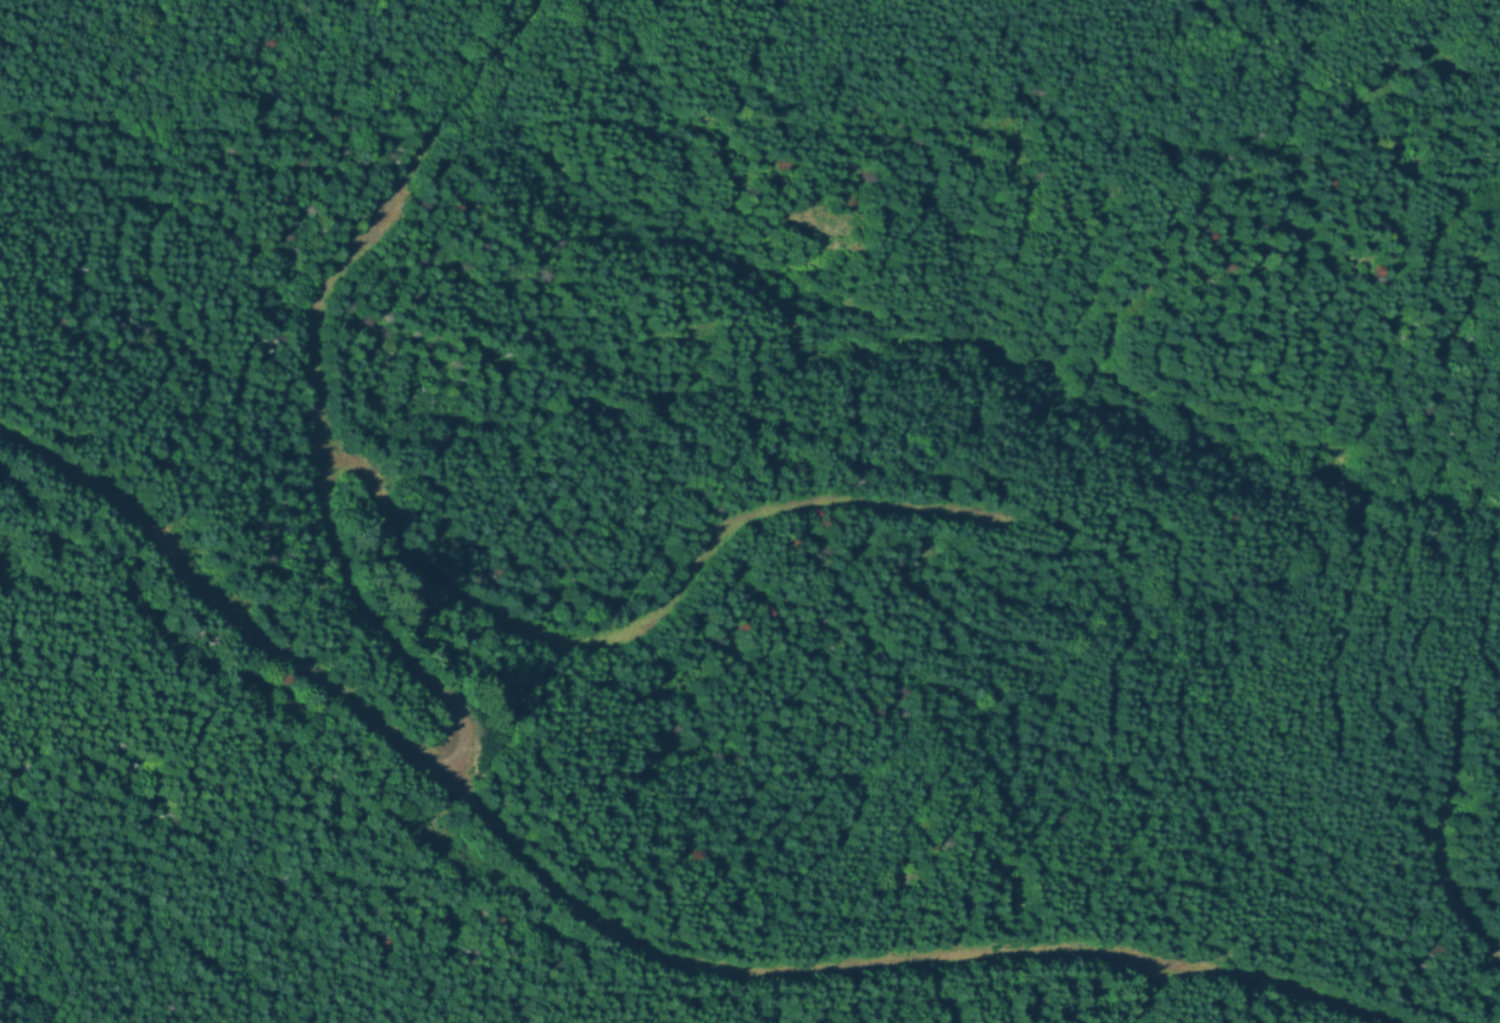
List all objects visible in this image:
road: (217, 611)
road: (639, 630)
road: (482, 819)
road: (1432, 832)
road: (1143, 993)

